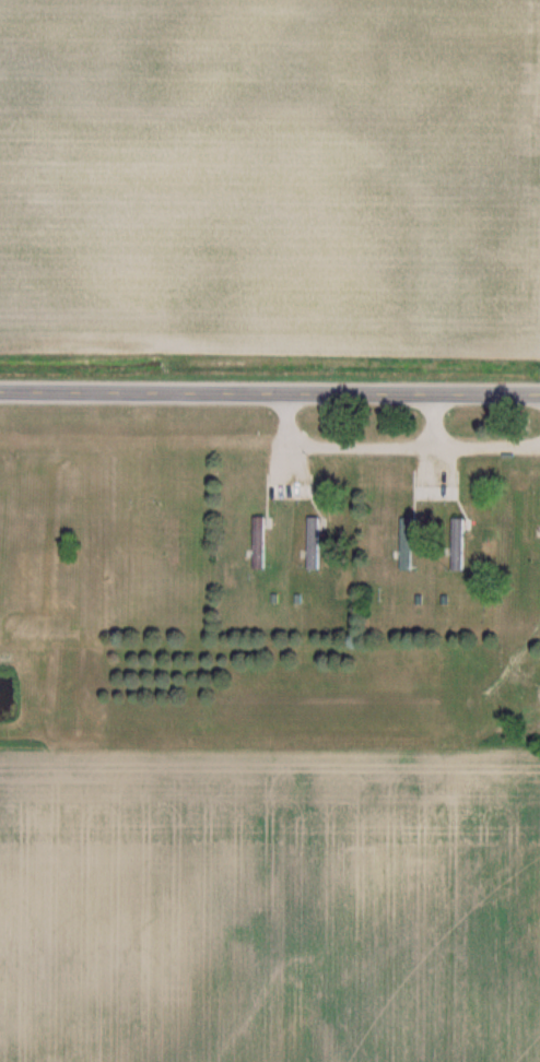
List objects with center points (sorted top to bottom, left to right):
road: (270, 391)
road: (436, 420)
road: (391, 447)
building: (262, 544)
building: (317, 544)
building: (461, 545)
building: (410, 546)

